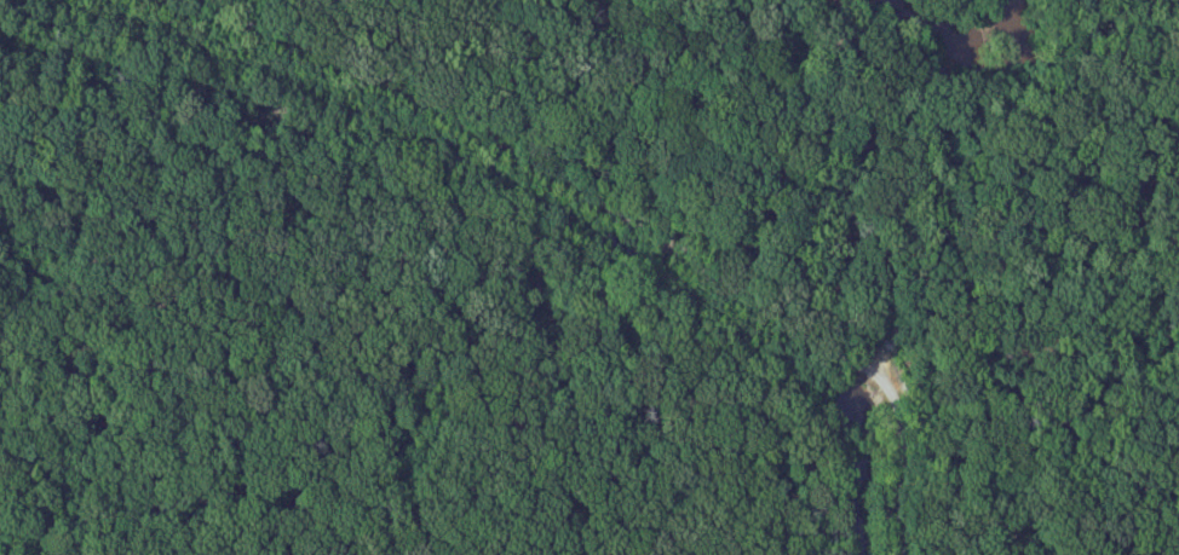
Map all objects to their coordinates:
road: (625, 218)

